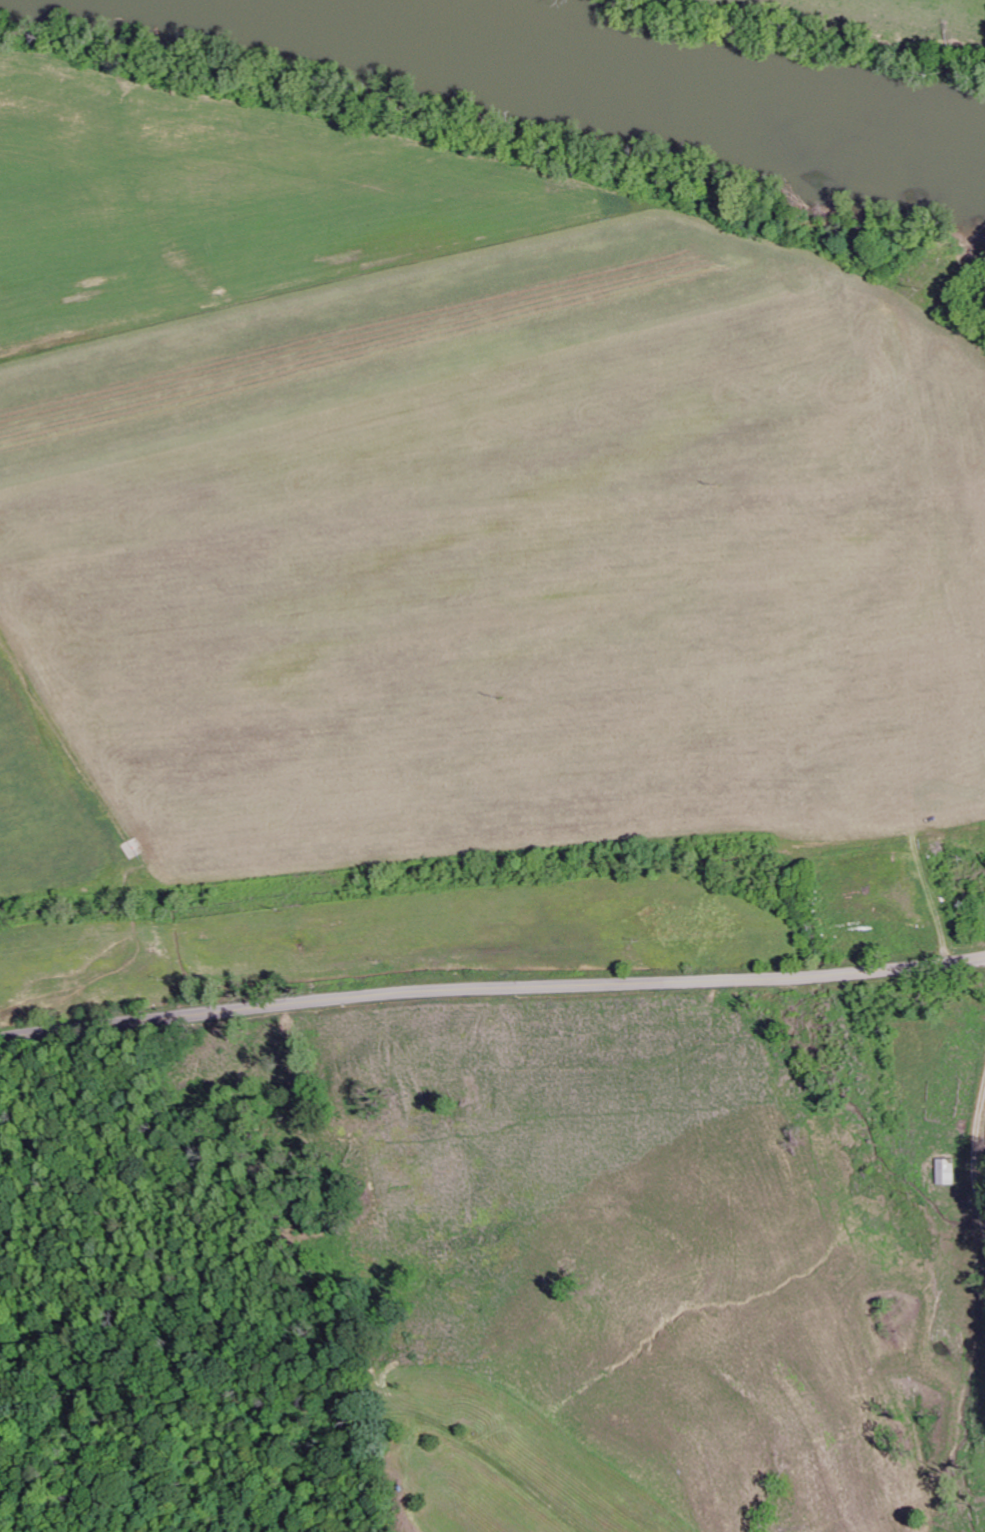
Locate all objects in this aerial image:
river: (578, 80)
road: (491, 990)

